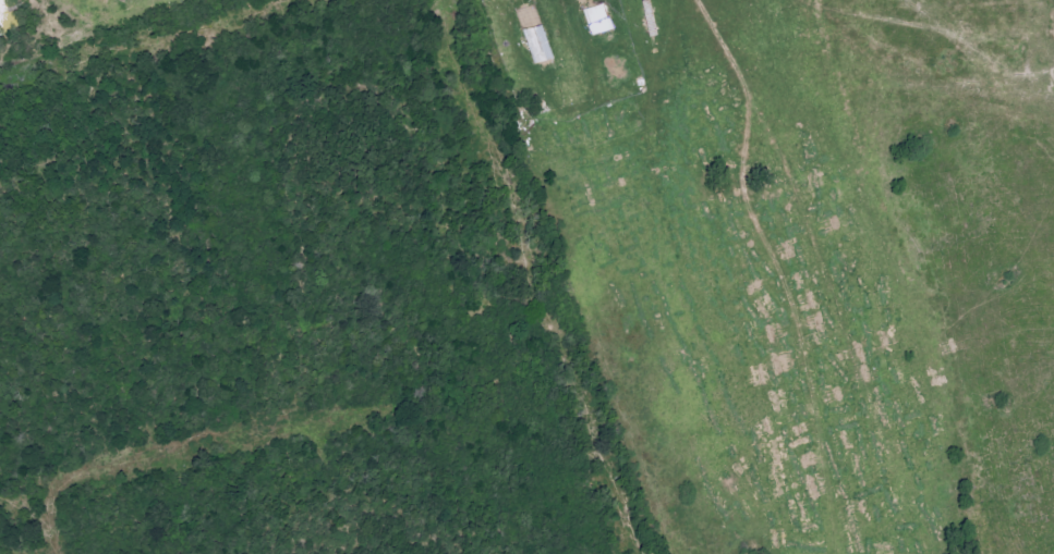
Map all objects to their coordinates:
building: (599, 17)
building: (540, 44)

